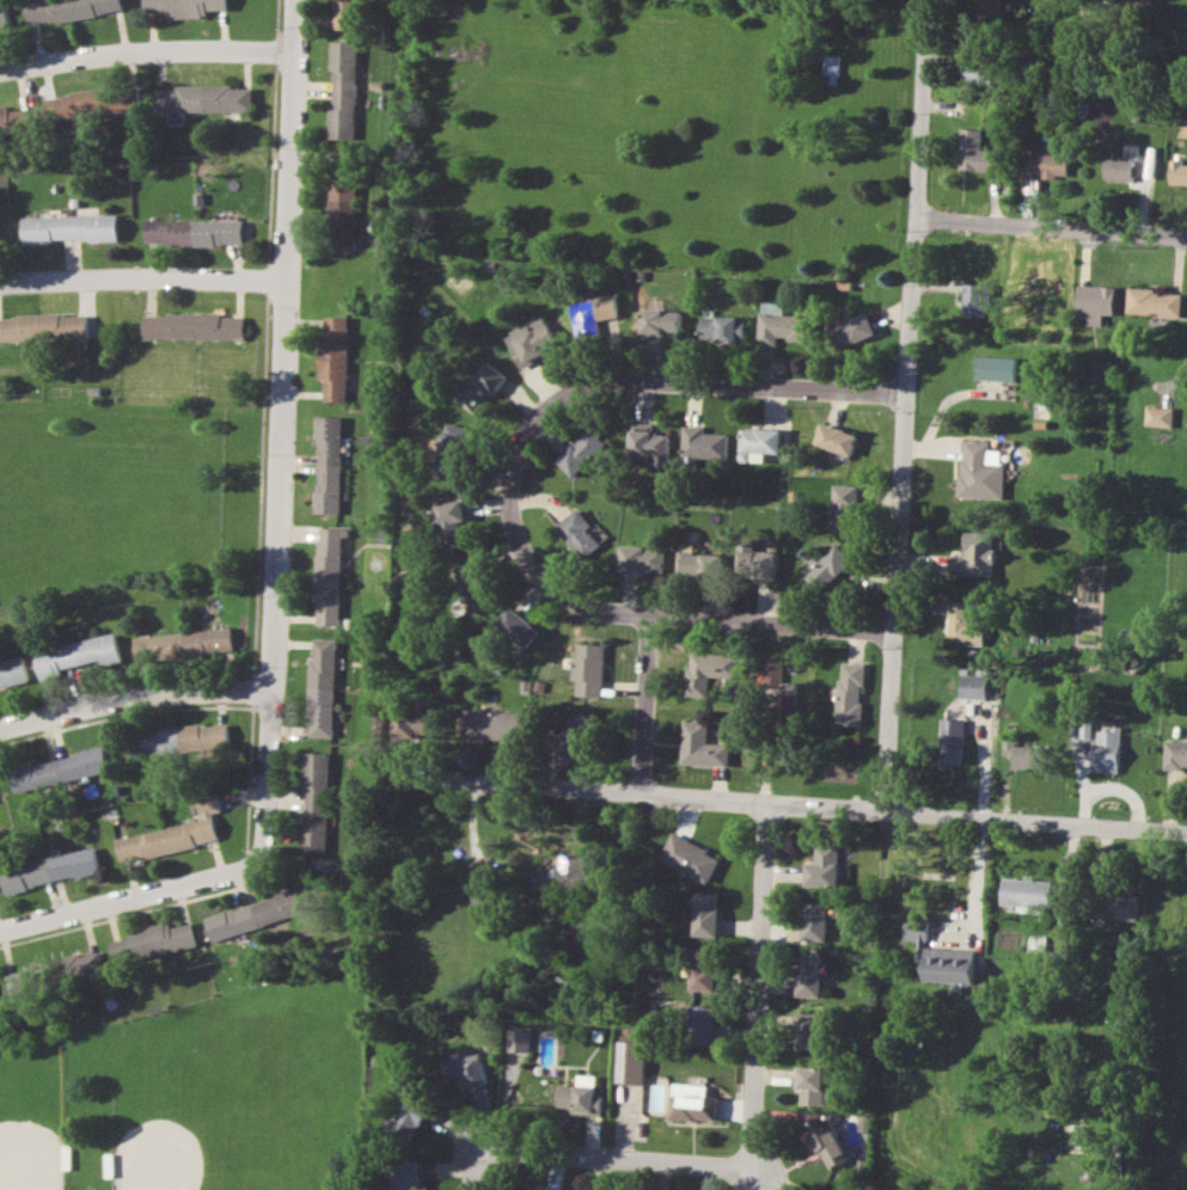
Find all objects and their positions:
building: (185, 6)
building: (986, 7)
building: (67, 8)
building: (345, 13)
building: (4, 17)
road: (142, 47)
building: (830, 68)
building: (974, 72)
building: (343, 88)
building: (202, 98)
building: (91, 103)
building: (14, 121)
building: (973, 151)
building: (1042, 164)
building: (1118, 168)
building: (343, 214)
building: (69, 227)
road: (1053, 231)
building: (192, 232)
road: (141, 280)
building: (977, 299)
building: (1095, 301)
building: (1154, 301)
building: (605, 307)
building: (663, 320)
building: (779, 324)
building: (192, 325)
building: (43, 326)
building: (722, 327)
building: (852, 330)
building: (531, 341)
building: (334, 357)
building: (995, 367)
building: (1101, 369)
road: (693, 374)
building: (482, 386)
road: (906, 406)
building: (1158, 416)
road: (277, 434)
building: (836, 438)
building: (760, 441)
building: (703, 442)
building: (649, 443)
building: (452, 452)
building: (580, 452)
building: (328, 464)
building: (979, 471)
park: (121, 490)
building: (845, 507)
building: (449, 520)
building: (577, 532)
building: (975, 554)
building: (640, 558)
building: (760, 563)
building: (697, 564)
building: (326, 575)
building: (472, 578)
road: (645, 619)
building: (516, 627)
building: (182, 645)
building: (74, 655)
building: (587, 668)
building: (706, 670)
building: (12, 671)
building: (771, 671)
building: (973, 686)
building: (320, 687)
building: (850, 693)
road: (645, 706)
building: (787, 706)
road: (135, 713)
building: (411, 724)
building: (491, 725)
building: (576, 736)
building: (179, 738)
building: (952, 742)
building: (700, 746)
building: (1106, 750)
building: (1024, 754)
building: (1175, 754)
building: (59, 769)
building: (314, 801)
road: (793, 803)
building: (173, 834)
building: (690, 858)
building: (824, 866)
building: (49, 869)
building: (575, 870)
building: (540, 878)
building: (1026, 892)
road: (133, 902)
building: (1119, 906)
building: (706, 913)
building: (253, 914)
building: (815, 921)
building: (153, 943)
building: (941, 957)
building: (85, 965)
building: (704, 969)
building: (809, 975)
building: (29, 979)
building: (702, 1023)
building: (808, 1030)
building: (518, 1039)
building: (630, 1061)
building: (464, 1068)
building: (809, 1084)
park: (238, 1096)
building: (581, 1096)
park: (196, 1097)
building: (692, 1102)
park: (35, 1118)
building: (408, 1118)
building: (828, 1146)
road: (760, 1149)
building: (405, 1176)

